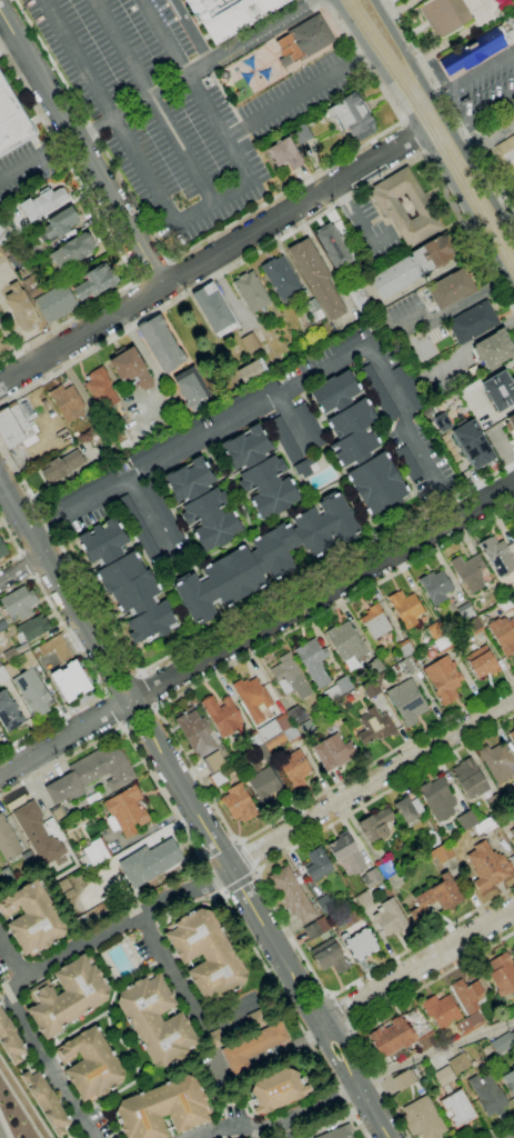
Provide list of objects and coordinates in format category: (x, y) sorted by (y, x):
building: (230, 14)
building: (444, 17)
road: (191, 31)
building: (304, 41)
building: (474, 51)
road: (473, 72)
road: (312, 89)
road: (159, 90)
road: (152, 101)
road: (449, 108)
parking lot: (155, 109)
road: (483, 112)
building: (353, 116)
road: (443, 118)
building: (11, 121)
railway: (439, 122)
railway: (434, 131)
building: (302, 133)
road: (412, 138)
road: (488, 139)
road: (427, 143)
road: (82, 146)
building: (506, 153)
building: (285, 154)
parking lot: (22, 169)
road: (502, 188)
building: (41, 204)
building: (390, 208)
road: (188, 218)
building: (58, 224)
road: (359, 224)
parking lot: (371, 230)
road: (110, 231)
road: (219, 231)
road: (289, 232)
building: (333, 247)
building: (71, 251)
building: (433, 253)
road: (210, 257)
road: (168, 263)
road: (153, 272)
road: (434, 273)
building: (280, 277)
building: (315, 277)
road: (173, 278)
building: (394, 278)
road: (140, 279)
building: (452, 289)
road: (149, 292)
building: (251, 292)
building: (73, 293)
road: (182, 293)
building: (19, 308)
road: (158, 308)
building: (312, 309)
building: (215, 311)
road: (449, 313)
building: (472, 322)
building: (249, 342)
building: (160, 345)
building: (493, 350)
road: (148, 358)
building: (131, 368)
building: (250, 370)
building: (190, 388)
building: (407, 389)
building: (100, 390)
building: (498, 391)
building: (379, 392)
road: (284, 393)
building: (67, 403)
building: (201, 422)
building: (13, 425)
building: (311, 427)
building: (510, 427)
building: (285, 441)
building: (359, 445)
building: (473, 445)
building: (62, 467)
building: (261, 473)
building: (87, 488)
building: (201, 505)
building: (164, 518)
building: (144, 536)
road: (14, 546)
building: (2, 550)
road: (20, 555)
building: (498, 556)
building: (268, 559)
road: (47, 562)
road: (27, 565)
road: (21, 567)
building: (470, 572)
road: (32, 575)
building: (125, 582)
building: (436, 587)
building: (19, 602)
building: (407, 608)
building: (376, 622)
building: (2, 625)
building: (33, 627)
road: (255, 628)
building: (434, 630)
road: (210, 631)
building: (503, 633)
building: (345, 641)
building: (22, 648)
building: (57, 648)
building: (10, 655)
building: (28, 659)
building: (313, 661)
building: (482, 662)
building: (0, 665)
road: (88, 668)
building: (11, 669)
road: (139, 672)
building: (2, 676)
building: (291, 677)
building: (444, 679)
building: (71, 681)
road: (121, 685)
road: (143, 689)
building: (32, 691)
road: (103, 693)
road: (134, 693)
building: (253, 698)
road: (121, 701)
building: (407, 702)
road: (153, 706)
road: (112, 709)
building: (9, 712)
road: (135, 713)
building: (223, 716)
road: (120, 726)
building: (376, 726)
building: (276, 730)
building: (194, 732)
road: (171, 735)
building: (512, 736)
building: (0, 737)
building: (334, 752)
building: (213, 762)
building: (497, 762)
building: (103, 767)
building: (295, 769)
building: (468, 779)
road: (371, 782)
building: (264, 785)
building: (64, 788)
building: (92, 798)
building: (437, 799)
building: (239, 803)
building: (409, 808)
building: (127, 810)
building: (466, 820)
building: (375, 826)
building: (38, 832)
building: (512, 832)
building: (8, 839)
road: (236, 841)
building: (97, 851)
building: (346, 852)
building: (441, 853)
road: (244, 857)
building: (27, 858)
road: (223, 858)
building: (151, 862)
building: (318, 865)
building: (487, 867)
road: (209, 872)
road: (255, 872)
building: (4, 874)
road: (239, 881)
building: (292, 895)
road: (266, 897)
building: (437, 897)
road: (185, 902)
building: (324, 904)
building: (31, 919)
building: (391, 919)
road: (151, 927)
building: (312, 931)
building: (129, 936)
building: (361, 945)
building: (513, 949)
building: (205, 954)
building: (329, 957)
road: (12, 958)
road: (43, 967)
road: (413, 969)
building: (501, 974)
road: (185, 992)
road: (326, 994)
building: (466, 995)
building: (65, 996)
road: (312, 1005)
building: (439, 1009)
road: (380, 1010)
road: (336, 1012)
road: (295, 1015)
building: (154, 1019)
building: (254, 1019)
building: (474, 1019)
road: (329, 1022)
building: (463, 1026)
road: (315, 1030)
road: (351, 1030)
building: (512, 1035)
building: (390, 1037)
building: (214, 1038)
building: (424, 1040)
building: (10, 1041)
building: (501, 1044)
building: (251, 1047)
road: (435, 1051)
building: (457, 1062)
building: (89, 1065)
road: (259, 1065)
building: (412, 1075)
building: (442, 1075)
building: (401, 1080)
building: (508, 1081)
building: (275, 1090)
building: (486, 1095)
building: (46, 1101)
building: (161, 1108)
building: (456, 1108)
road: (374, 1114)
building: (421, 1119)
road: (278, 1121)
road: (6, 1125)
road: (492, 1129)
building: (336, 1132)

